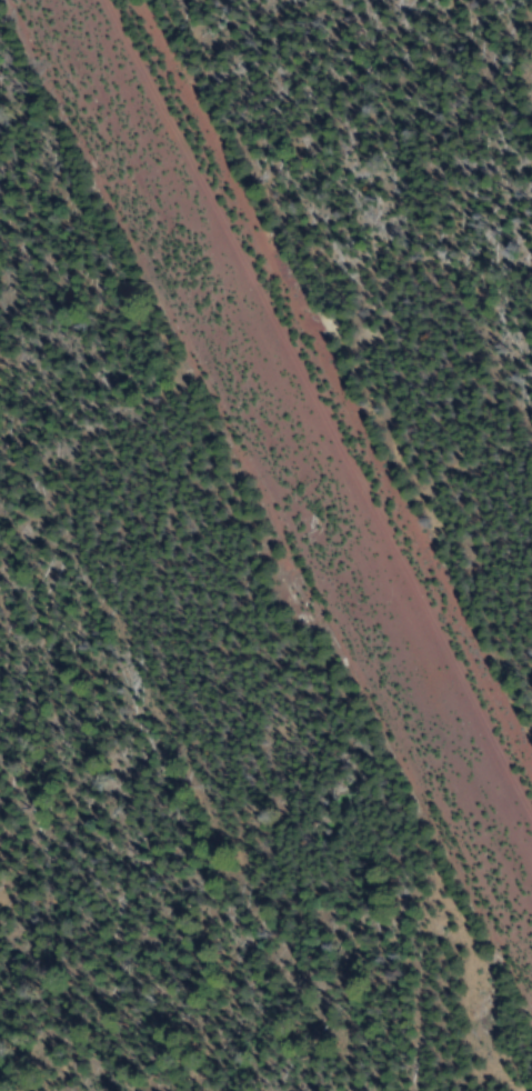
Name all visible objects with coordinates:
road: (506, 781)

